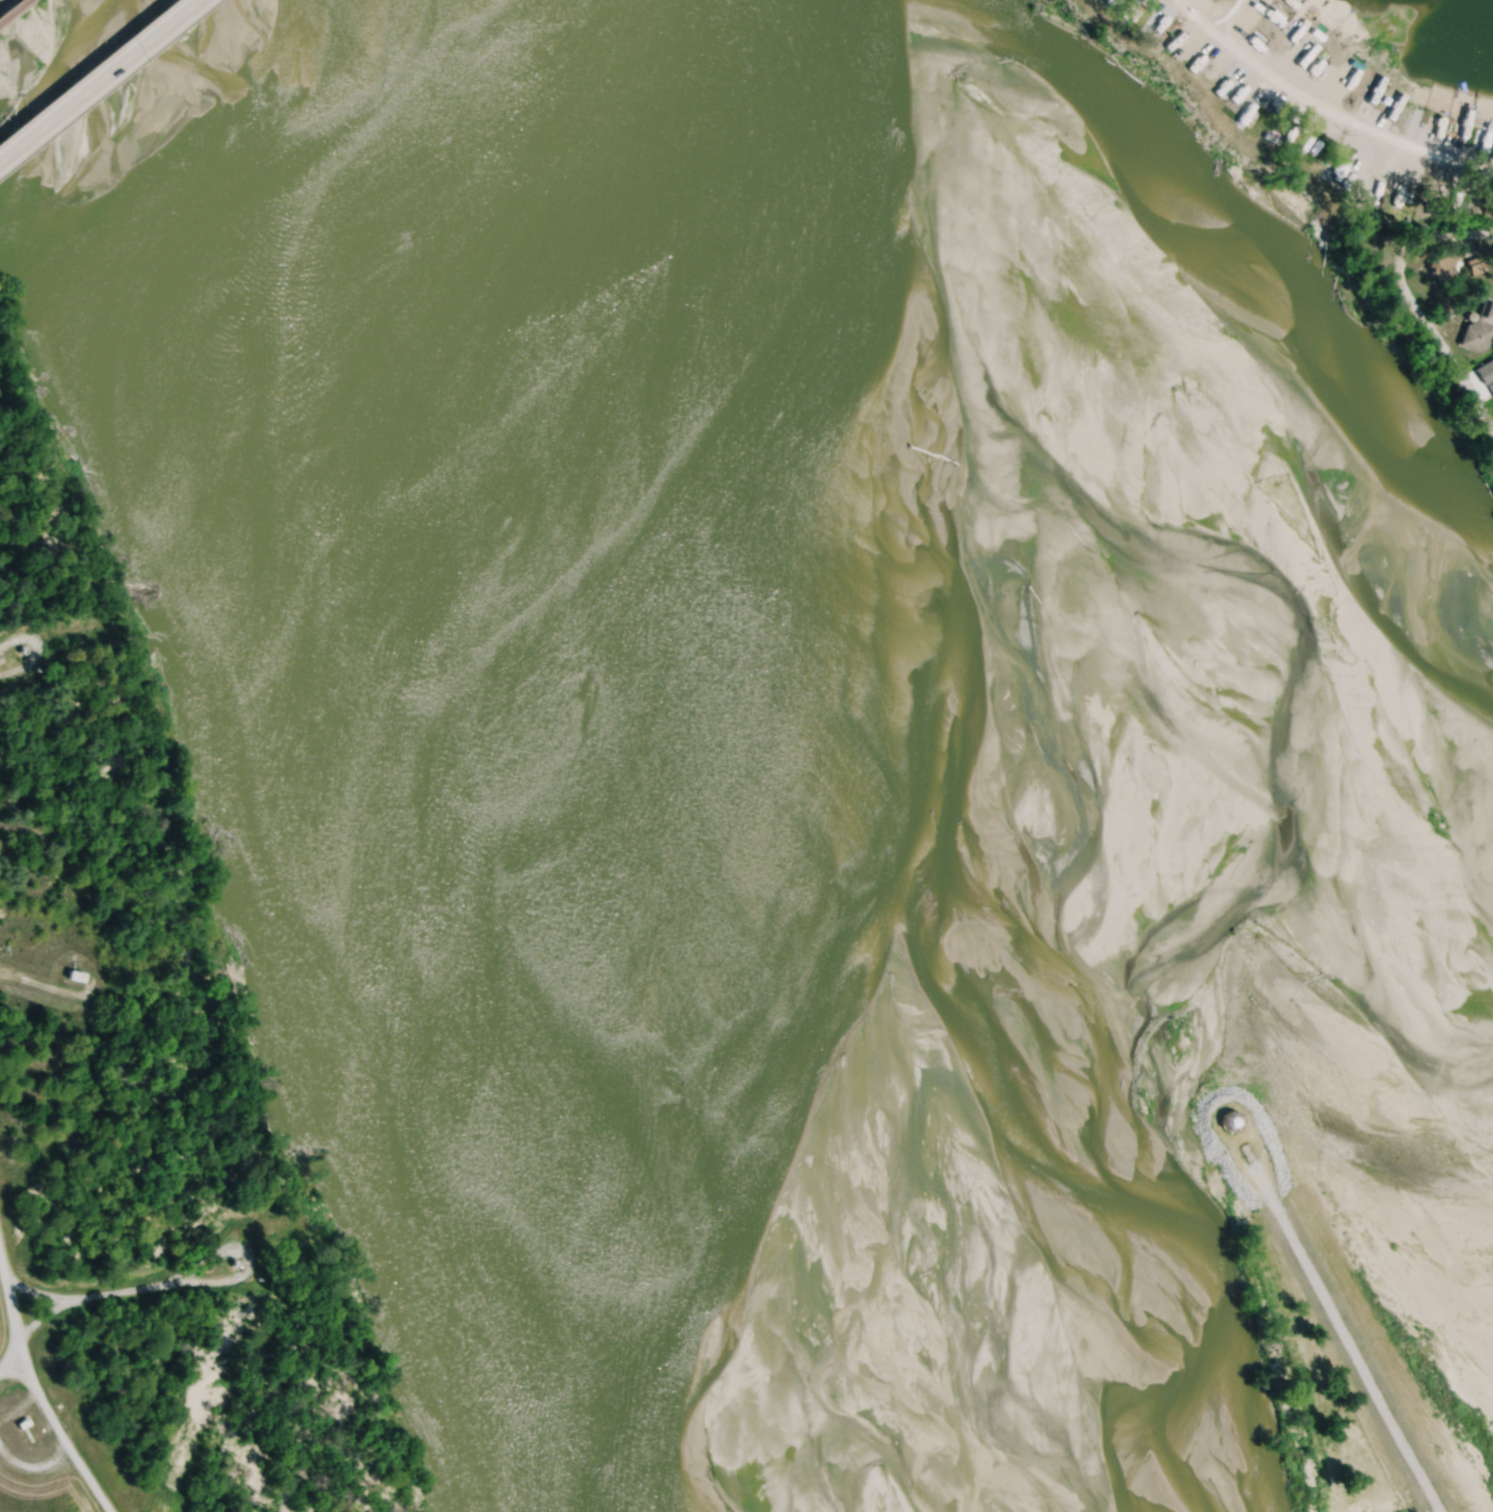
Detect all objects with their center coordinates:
railway: (11, 8)
road: (95, 77)
road: (1322, 109)
building: (1444, 263)
road: (1406, 295)
building: (1480, 330)
building: (1487, 374)
river: (1195, 390)
road: (1490, 427)
road: (33, 655)
river: (493, 759)
building: (76, 976)
road: (44, 990)
road: (1210, 1106)
lighthouse: (1238, 1119)
building: (1230, 1121)
road: (208, 1262)
road: (97, 1296)
road: (1359, 1361)
road: (14, 1368)
road: (35, 1378)

